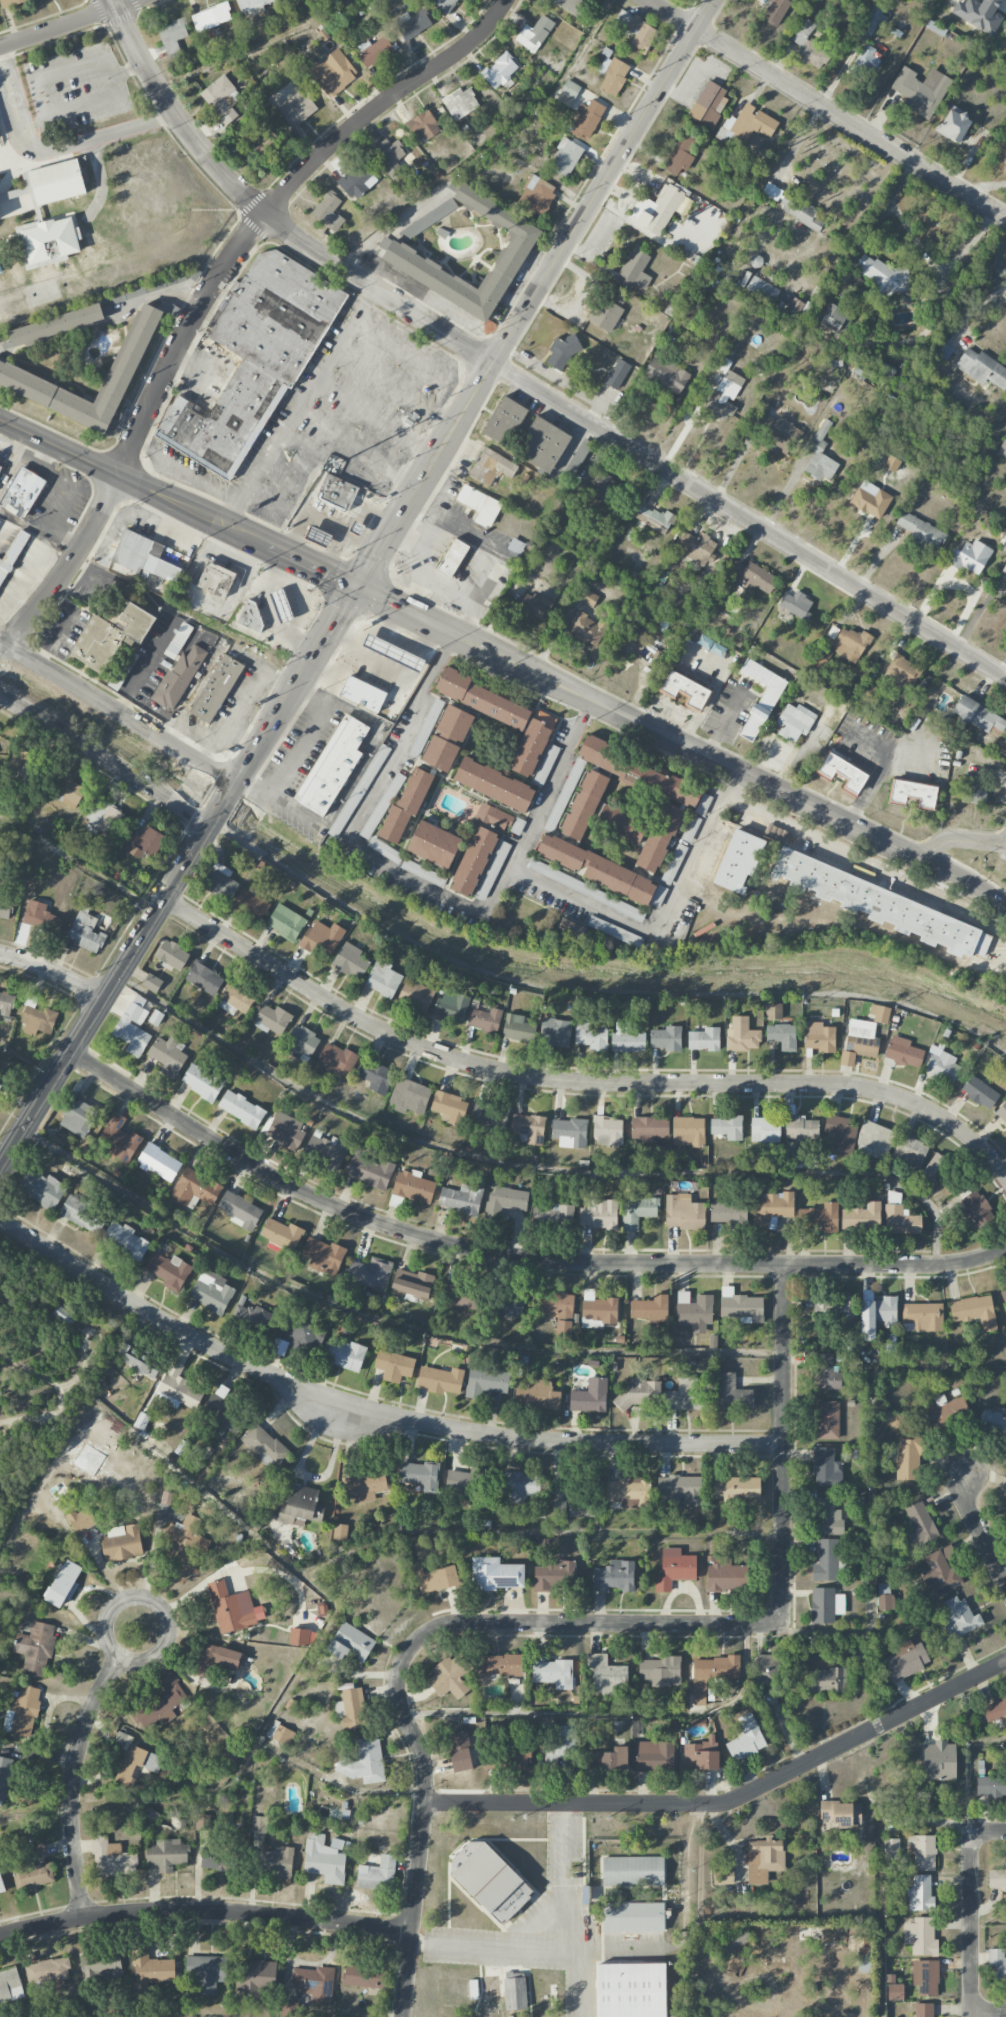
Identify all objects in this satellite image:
building: (10, 3)
building: (443, 5)
building: (570, 5)
building: (251, 6)
building: (776, 11)
building: (978, 14)
building: (211, 17)
building: (874, 17)
road: (66, 23)
building: (412, 24)
building: (637, 30)
building: (802, 32)
building: (534, 34)
building: (172, 36)
road: (255, 44)
building: (374, 51)
building: (812, 55)
building: (866, 61)
road: (126, 66)
building: (500, 71)
building: (333, 72)
building: (612, 75)
building: (570, 89)
building: (921, 91)
building: (221, 99)
road: (43, 102)
building: (460, 103)
building: (708, 103)
building: (297, 108)
road: (828, 108)
building: (587, 119)
building: (423, 125)
building: (746, 125)
building: (954, 125)
road: (57, 145)
road: (489, 145)
building: (679, 155)
building: (1002, 155)
building: (388, 157)
building: (565, 158)
building: (356, 181)
building: (51, 183)
building: (772, 191)
building: (536, 196)
road: (886, 202)
road: (271, 205)
building: (655, 209)
building: (328, 211)
building: (800, 211)
road: (585, 212)
building: (427, 220)
building: (48, 241)
building: (399, 252)
building: (634, 270)
building: (884, 275)
building: (856, 285)
building: (762, 289)
road: (162, 294)
building: (618, 298)
building: (795, 306)
road: (975, 306)
building: (605, 314)
building: (836, 319)
building: (56, 325)
road: (396, 347)
building: (944, 351)
building: (561, 352)
building: (253, 361)
building: (981, 368)
building: (15, 374)
building: (617, 374)
building: (666, 374)
road: (519, 380)
road: (397, 385)
building: (723, 393)
road: (298, 406)
road: (377, 416)
building: (504, 419)
building: (777, 429)
road: (448, 438)
building: (542, 444)
building: (1002, 448)
road: (357, 449)
building: (820, 454)
building: (1005, 464)
building: (491, 467)
road: (430, 468)
building: (605, 487)
building: (22, 492)
building: (336, 492)
building: (870, 502)
road: (178, 504)
building: (479, 505)
building: (654, 518)
building: (921, 531)
road: (388, 535)
building: (317, 537)
building: (698, 548)
building: (514, 550)
building: (12, 554)
building: (143, 556)
building: (969, 557)
building: (452, 558)
road: (68, 568)
building: (1004, 571)
building: (753, 576)
traffic signals: (358, 587)
building: (215, 592)
building: (587, 597)
building: (796, 604)
building: (281, 605)
building: (534, 606)
road: (408, 611)
building: (251, 616)
building: (136, 621)
building: (587, 628)
road: (2, 642)
building: (97, 644)
building: (630, 644)
building: (850, 644)
road: (452, 645)
building: (711, 646)
building: (657, 661)
road: (524, 667)
building: (902, 672)
building: (178, 677)
building: (216, 689)
building: (685, 690)
building: (362, 694)
building: (871, 694)
building: (480, 698)
building: (760, 698)
road: (235, 705)
road: (587, 706)
road: (120, 713)
building: (976, 715)
building: (430, 717)
building: (794, 721)
road: (247, 724)
road: (724, 725)
building: (447, 738)
building: (532, 743)
road: (209, 744)
road: (301, 748)
building: (598, 755)
building: (25, 758)
road: (105, 760)
building: (545, 764)
building: (333, 766)
building: (842, 773)
building: (493, 784)
building: (661, 784)
road: (869, 787)
building: (972, 791)
building: (69, 792)
building: (565, 793)
building: (913, 794)
road: (799, 800)
building: (584, 805)
building: (405, 806)
building: (104, 817)
building: (493, 817)
building: (620, 824)
building: (659, 837)
road: (959, 838)
building: (143, 842)
building: (433, 844)
road: (81, 853)
building: (473, 861)
building: (673, 863)
building: (597, 869)
building: (492, 870)
road: (177, 874)
building: (220, 881)
road: (422, 883)
building: (840, 884)
building: (251, 903)
building: (5, 907)
building: (41, 917)
road: (660, 917)
building: (285, 922)
building: (569, 931)
building: (85, 932)
building: (615, 932)
building: (322, 938)
building: (172, 955)
building: (350, 961)
road: (51, 972)
building: (204, 978)
building: (383, 979)
building: (152, 983)
road: (594, 990)
building: (415, 995)
building: (233, 1000)
building: (450, 1007)
building: (773, 1011)
building: (879, 1013)
building: (37, 1017)
building: (270, 1018)
building: (484, 1020)
building: (133, 1026)
building: (518, 1028)
building: (556, 1031)
building: (591, 1034)
building: (742, 1035)
building: (782, 1036)
building: (627, 1037)
building: (819, 1037)
building: (665, 1038)
building: (704, 1039)
building: (859, 1041)
building: (301, 1042)
building: (902, 1052)
building: (168, 1054)
building: (337, 1058)
building: (942, 1067)
road: (25, 1068)
building: (375, 1076)
road: (576, 1080)
building: (202, 1082)
building: (0, 1087)
building: (980, 1092)
building: (409, 1096)
building: (448, 1106)
building: (241, 1109)
building: (1001, 1112)
building: (490, 1116)
building: (78, 1118)
building: (726, 1127)
building: (528, 1128)
building: (649, 1128)
building: (801, 1128)
building: (765, 1129)
building: (285, 1130)
building: (607, 1131)
building: (688, 1131)
building: (569, 1132)
building: (841, 1134)
building: (118, 1138)
building: (874, 1140)
building: (327, 1150)
building: (909, 1151)
building: (158, 1162)
road: (534, 1167)
building: (933, 1169)
building: (370, 1170)
building: (413, 1186)
building: (194, 1188)
building: (41, 1189)
building: (461, 1199)
building: (505, 1201)
building: (773, 1208)
building: (977, 1208)
building: (239, 1210)
building: (637, 1210)
building: (726, 1211)
building: (552, 1212)
building: (683, 1212)
building: (81, 1214)
building: (599, 1214)
building: (861, 1217)
building: (818, 1218)
building: (281, 1234)
building: (125, 1240)
road: (514, 1255)
building: (323, 1256)
building: (169, 1271)
building: (370, 1273)
building: (412, 1285)
building: (211, 1292)
building: (1004, 1296)
building: (461, 1297)
building: (539, 1306)
building: (741, 1306)
building: (834, 1307)
building: (598, 1308)
building: (649, 1308)
building: (694, 1311)
building: (974, 1311)
building: (876, 1315)
building: (63, 1316)
building: (253, 1316)
road: (380, 1317)
building: (922, 1317)
building: (299, 1335)
building: (344, 1354)
building: (136, 1360)
building: (394, 1366)
road: (939, 1369)
building: (823, 1371)
building: (440, 1380)
building: (486, 1382)
building: (178, 1386)
road: (60, 1393)
building: (640, 1393)
building: (732, 1393)
building: (536, 1394)
building: (685, 1395)
building: (590, 1396)
road: (369, 1407)
building: (946, 1411)
building: (222, 1415)
building: (826, 1420)
building: (997, 1422)
road: (783, 1442)
building: (264, 1446)
building: (907, 1459)
building: (826, 1468)
building: (420, 1475)
building: (365, 1486)
building: (518, 1486)
building: (735, 1488)
building: (627, 1491)
building: (680, 1491)
building: (1004, 1502)
building: (300, 1507)
building: (571, 1510)
building: (829, 1517)
building: (81, 1520)
building: (920, 1523)
road: (979, 1528)
road: (538, 1529)
building: (340, 1532)
building: (185, 1539)
building: (121, 1543)
road: (870, 1552)
road: (279, 1554)
building: (825, 1561)
building: (674, 1569)
building: (941, 1572)
building: (495, 1574)
building: (554, 1574)
building: (614, 1576)
building: (726, 1576)
building: (436, 1579)
building: (63, 1584)
building: (884, 1596)
road: (156, 1602)
building: (825, 1605)
building: (233, 1608)
building: (959, 1618)
road: (598, 1622)
building: (301, 1637)
building: (350, 1643)
building: (35, 1648)
building: (214, 1660)
building: (905, 1660)
building: (501, 1665)
building: (660, 1670)
building: (766, 1671)
building: (553, 1673)
building: (605, 1674)
building: (712, 1674)
building: (449, 1677)
building: (823, 1680)
building: (160, 1703)
building: (351, 1709)
building: (995, 1710)
building: (22, 1712)
building: (280, 1733)
building: (746, 1739)
road: (988, 1741)
building: (561, 1742)
building: (459, 1751)
building: (654, 1755)
building: (701, 1755)
road: (970, 1757)
building: (521, 1759)
building: (609, 1759)
building: (133, 1760)
building: (364, 1761)
building: (939, 1761)
building: (4, 1775)
road: (72, 1782)
building: (990, 1787)
road: (141, 1796)
road: (731, 1799)
building: (841, 1813)
road: (423, 1818)
building: (201, 1822)
building: (259, 1824)
road: (988, 1831)
road: (731, 1840)
building: (923, 1851)
building: (36, 1852)
building: (891, 1853)
building: (166, 1854)
building: (325, 1858)
building: (111, 1859)
building: (763, 1859)
building: (214, 1862)
building: (278, 1862)
building: (632, 1871)
road: (877, 1872)
building: (377, 1874)
building: (33, 1875)
building: (997, 1878)
building: (722, 1879)
building: (489, 1881)
building: (1, 1887)
building: (920, 1894)
road: (205, 1909)
building: (633, 1917)
road: (989, 1921)
road: (972, 1924)
building: (920, 1937)
building: (736, 1944)
road: (562, 1946)
road: (578, 1946)
building: (863, 1959)
building: (997, 1962)
building: (101, 1966)
building: (151, 1967)
building: (206, 1972)
building: (48, 1973)
building: (364, 1977)
building: (925, 1977)
building: (255, 1981)
building: (314, 1983)
building: (10, 1985)
building: (515, 1990)
building: (631, 1990)
building: (895, 1992)
building: (492, 1993)
building: (923, 2010)
road: (989, 2012)

